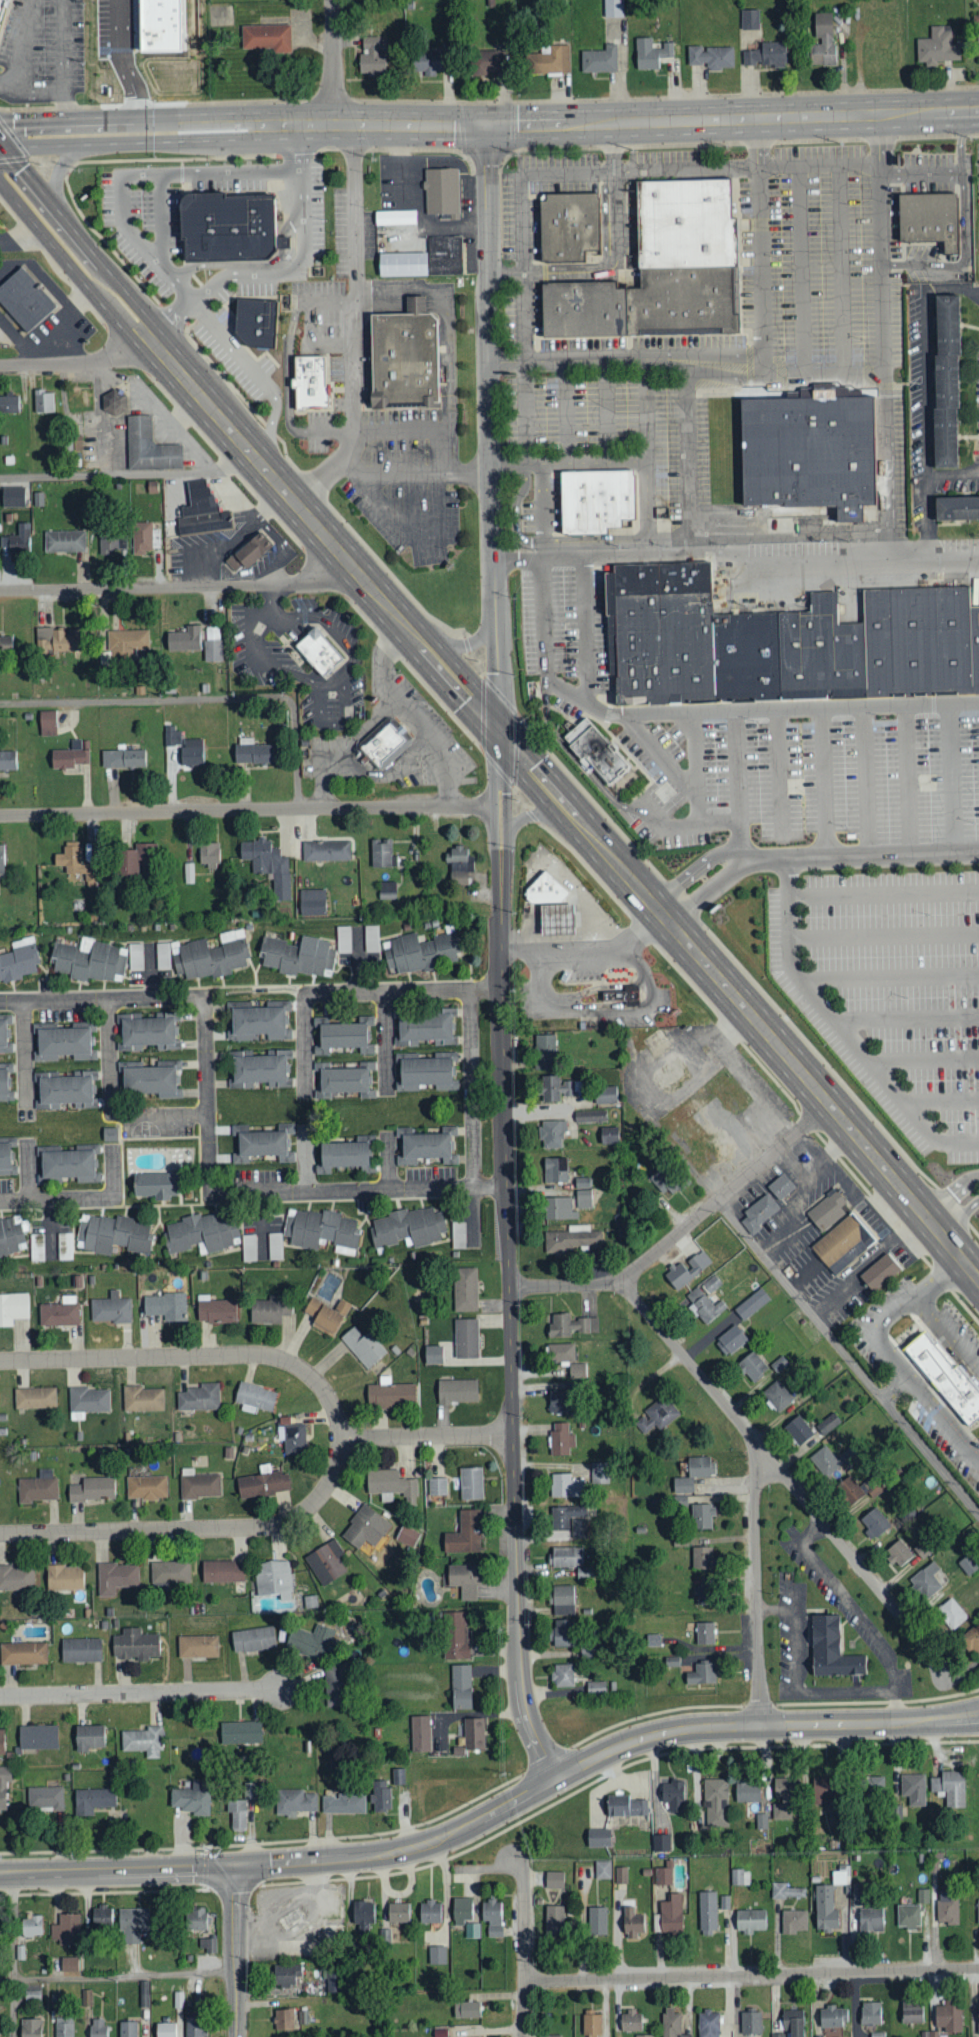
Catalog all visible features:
building: (2, 7)
building: (613, 8)
building: (750, 19)
building: (158, 27)
building: (976, 29)
building: (267, 38)
building: (822, 41)
road: (24, 44)
road: (63, 46)
building: (937, 47)
building: (650, 53)
building: (766, 55)
building: (371, 57)
building: (711, 57)
building: (599, 60)
road: (119, 61)
building: (550, 61)
building: (428, 62)
building: (487, 62)
road: (334, 63)
road: (45, 93)
road: (734, 118)
road: (100, 121)
road: (344, 126)
traffic signals: (489, 126)
road: (960, 141)
road: (101, 144)
road: (60, 170)
road: (922, 172)
building: (444, 193)
road: (525, 204)
road: (123, 207)
building: (395, 216)
building: (928, 217)
building: (228, 224)
building: (567, 225)
road: (80, 237)
road: (963, 257)
building: (425, 258)
road: (616, 260)
parking lot: (834, 267)
road: (841, 267)
road: (67, 268)
building: (659, 268)
road: (801, 268)
road: (166, 271)
road: (286, 272)
building: (24, 299)
road: (763, 306)
building: (256, 319)
road: (357, 325)
road: (885, 332)
road: (925, 354)
building: (404, 358)
road: (509, 358)
parking lot: (602, 358)
road: (76, 361)
road: (450, 368)
road: (702, 371)
building: (946, 374)
building: (312, 381)
building: (43, 402)
building: (114, 403)
building: (9, 404)
road: (644, 407)
road: (566, 408)
road: (606, 408)
road: (490, 429)
road: (399, 430)
building: (149, 448)
building: (811, 448)
road: (583, 459)
road: (689, 460)
road: (397, 472)
road: (127, 474)
road: (927, 486)
building: (12, 497)
road: (542, 499)
building: (595, 499)
building: (956, 506)
road: (517, 509)
building: (201, 512)
road: (406, 524)
road: (322, 534)
building: (17, 540)
building: (64, 541)
building: (111, 543)
road: (542, 547)
road: (736, 552)
building: (248, 553)
road: (176, 587)
road: (544, 616)
road: (587, 627)
parking lot: (564, 638)
building: (57, 640)
building: (184, 640)
building: (783, 642)
building: (125, 644)
building: (212, 644)
road: (467, 644)
building: (5, 646)
building: (318, 649)
road: (313, 681)
road: (200, 698)
road: (758, 709)
road: (410, 715)
building: (47, 723)
road: (337, 723)
traffic signals: (501, 733)
building: (386, 741)
building: (185, 748)
building: (596, 750)
building: (252, 751)
road: (574, 755)
road: (660, 755)
building: (69, 756)
building: (123, 758)
building: (8, 760)
road: (353, 765)
road: (696, 768)
road: (780, 774)
parking lot: (806, 776)
road: (952, 776)
road: (909, 778)
road: (324, 779)
road: (866, 780)
road: (826, 781)
road: (737, 784)
road: (494, 801)
road: (507, 802)
road: (247, 811)
road: (537, 814)
road: (577, 819)
road: (687, 824)
building: (326, 850)
road: (884, 852)
building: (382, 853)
building: (209, 854)
building: (134, 858)
road: (764, 858)
building: (2, 859)
building: (75, 862)
building: (459, 864)
building: (268, 865)
road: (694, 873)
building: (387, 890)
road: (884, 892)
road: (707, 894)
building: (312, 902)
building: (553, 906)
gas station: (553, 906)
road: (658, 911)
road: (884, 934)
building: (371, 938)
building: (343, 939)
building: (420, 952)
building: (135, 956)
building: (203, 956)
building: (298, 956)
road: (584, 956)
building: (19, 959)
building: (89, 960)
road: (890, 976)
parking lot: (888, 985)
road: (592, 988)
road: (403, 991)
building: (624, 994)
road: (608, 1011)
road: (745, 1011)
road: (908, 1016)
building: (257, 1023)
road: (843, 1025)
building: (422, 1028)
building: (147, 1032)
building: (340, 1036)
building: (4, 1039)
road: (386, 1043)
building: (64, 1044)
road: (305, 1046)
building: (544, 1051)
road: (25, 1054)
road: (924, 1055)
building: (259, 1069)
building: (423, 1072)
building: (149, 1079)
building: (343, 1080)
building: (4, 1087)
building: (558, 1088)
building: (64, 1089)
road: (472, 1089)
building: (605, 1095)
road: (942, 1098)
road: (110, 1106)
building: (590, 1116)
building: (552, 1134)
building: (609, 1135)
road: (209, 1141)
building: (263, 1142)
building: (424, 1147)
building: (341, 1156)
road: (306, 1159)
building: (6, 1160)
road: (389, 1161)
road: (876, 1161)
building: (68, 1165)
road: (29, 1170)
building: (555, 1170)
building: (664, 1180)
building: (583, 1182)
building: (155, 1185)
building: (780, 1186)
road: (949, 1193)
road: (726, 1194)
building: (584, 1198)
road: (84, 1199)
building: (560, 1208)
building: (827, 1211)
building: (758, 1213)
road: (958, 1217)
road: (931, 1224)
building: (408, 1227)
building: (321, 1230)
building: (201, 1233)
building: (110, 1234)
building: (458, 1235)
building: (11, 1237)
building: (571, 1239)
building: (842, 1244)
building: (65, 1246)
building: (275, 1246)
building: (37, 1247)
building: (249, 1247)
road: (959, 1256)
building: (687, 1270)
building: (879, 1272)
building: (711, 1284)
road: (565, 1286)
building: (464, 1289)
building: (751, 1304)
building: (166, 1306)
building: (704, 1306)
building: (13, 1308)
building: (111, 1309)
building: (215, 1310)
building: (269, 1310)
building: (60, 1312)
building: (326, 1314)
road: (888, 1317)
building: (570, 1325)
road: (950, 1328)
road: (510, 1329)
building: (466, 1338)
building: (731, 1340)
building: (362, 1346)
building: (560, 1352)
building: (433, 1355)
road: (847, 1357)
road: (278, 1360)
building: (753, 1366)
road: (690, 1367)
building: (577, 1370)
building: (945, 1375)
building: (457, 1391)
building: (390, 1395)
building: (777, 1396)
building: (254, 1397)
building: (35, 1398)
building: (199, 1398)
building: (143, 1399)
building: (88, 1402)
building: (559, 1402)
building: (661, 1413)
road: (938, 1414)
building: (798, 1429)
building: (291, 1435)
building: (561, 1439)
building: (824, 1461)
building: (599, 1473)
building: (693, 1474)
building: (263, 1483)
building: (471, 1483)
building: (199, 1484)
building: (391, 1486)
building: (437, 1486)
building: (566, 1486)
building: (146, 1487)
building: (847, 1488)
building: (36, 1489)
building: (92, 1489)
building: (702, 1516)
building: (572, 1520)
building: (874, 1523)
building: (365, 1528)
road: (196, 1530)
building: (465, 1533)
building: (407, 1536)
building: (898, 1554)
building: (565, 1557)
building: (702, 1558)
building: (327, 1562)
road: (856, 1563)
building: (968, 1565)
building: (222, 1571)
building: (170, 1573)
road: (848, 1577)
building: (15, 1578)
building: (64, 1578)
building: (116, 1578)
building: (273, 1579)
building: (465, 1580)
building: (928, 1580)
road: (836, 1588)
road: (751, 1589)
building: (704, 1595)
building: (563, 1600)
road: (772, 1611)
building: (951, 1613)
road: (793, 1631)
building: (563, 1633)
building: (705, 1633)
building: (455, 1635)
building: (253, 1639)
building: (310, 1641)
building: (972, 1641)
building: (135, 1645)
building: (197, 1646)
building: (81, 1650)
building: (831, 1650)
building: (23, 1653)
building: (702, 1674)
building: (562, 1675)
building: (336, 1685)
building: (461, 1687)
building: (596, 1688)
road: (894, 1689)
road: (823, 1690)
road: (139, 1691)
road: (759, 1725)
building: (240, 1733)
building: (420, 1734)
building: (474, 1734)
building: (38, 1737)
building: (88, 1737)
building: (143, 1741)
building: (1, 1742)
building: (3, 1788)
building: (871, 1788)
building: (950, 1788)
building: (913, 1789)
building: (748, 1791)
building: (824, 1791)
building: (381, 1796)
building: (673, 1796)
building: (45, 1798)
building: (192, 1798)
building: (785, 1798)
building: (93, 1800)
building: (294, 1802)
building: (344, 1803)
building: (716, 1803)
building: (625, 1807)
building: (237, 1814)
building: (761, 1821)
building: (598, 1838)
building: (661, 1843)
road: (403, 1853)
traffic signals: (239, 1869)
building: (603, 1869)
road: (119, 1872)
building: (622, 1875)
building: (662, 1876)
building: (841, 1876)
building: (740, 1877)
building: (554, 1880)
building: (786, 1891)
building: (858, 1894)
building: (923, 1896)
building: (947, 1907)
building: (825, 1909)
building: (462, 1911)
building: (430, 1912)
building: (707, 1912)
building: (398, 1913)
building: (978, 1914)
building: (362, 1916)
building: (669, 1916)
building: (908, 1916)
building: (102, 1917)
building: (493, 1917)
building: (194, 1919)
building: (554, 1920)
building: (632, 1920)
building: (871, 1920)
building: (597, 1921)
building: (750, 1921)
building: (793, 1922)
building: (132, 1925)
building: (31, 1926)
building: (67, 1930)
building: (472, 1930)
building: (208, 1945)
road: (237, 1952)
road: (524, 1953)
building: (437, 1955)
road: (14, 1956)
building: (70, 1964)
building: (285, 1975)
road: (125, 1976)
road: (752, 1976)
building: (334, 1980)
building: (467, 2010)
building: (870, 2013)
building: (978, 2014)
building: (912, 2016)
building: (949, 2016)
building: (833, 2017)
building: (283, 2020)
building: (630, 2022)
building: (592, 2024)
building: (672, 2024)
building: (708, 2024)
building: (751, 2024)
building: (792, 2024)
building: (195, 2027)
building: (30, 2028)
building: (97, 2028)
building: (128, 2029)
building: (64, 2030)
building: (165, 2030)
building: (834, 2032)
building: (930, 2034)
building: (550, 2036)
building: (644, 2036)

